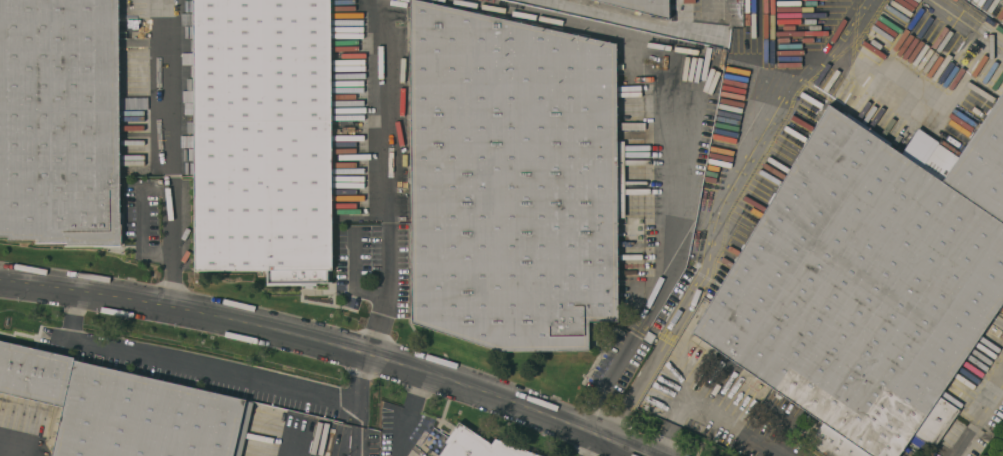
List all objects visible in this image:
building: (638, 8)
road: (967, 24)
road: (654, 74)
building: (61, 121)
building: (265, 138)
road: (169, 153)
road: (383, 176)
building: (514, 180)
road: (719, 208)
building: (869, 284)
road: (633, 338)
road: (333, 342)
road: (218, 369)
building: (124, 409)
road: (713, 409)
road: (406, 411)
road: (358, 414)
road: (979, 419)
road: (287, 437)
road: (355, 439)
road: (587, 443)
building: (477, 446)
road: (353, 454)
road: (646, 455)

